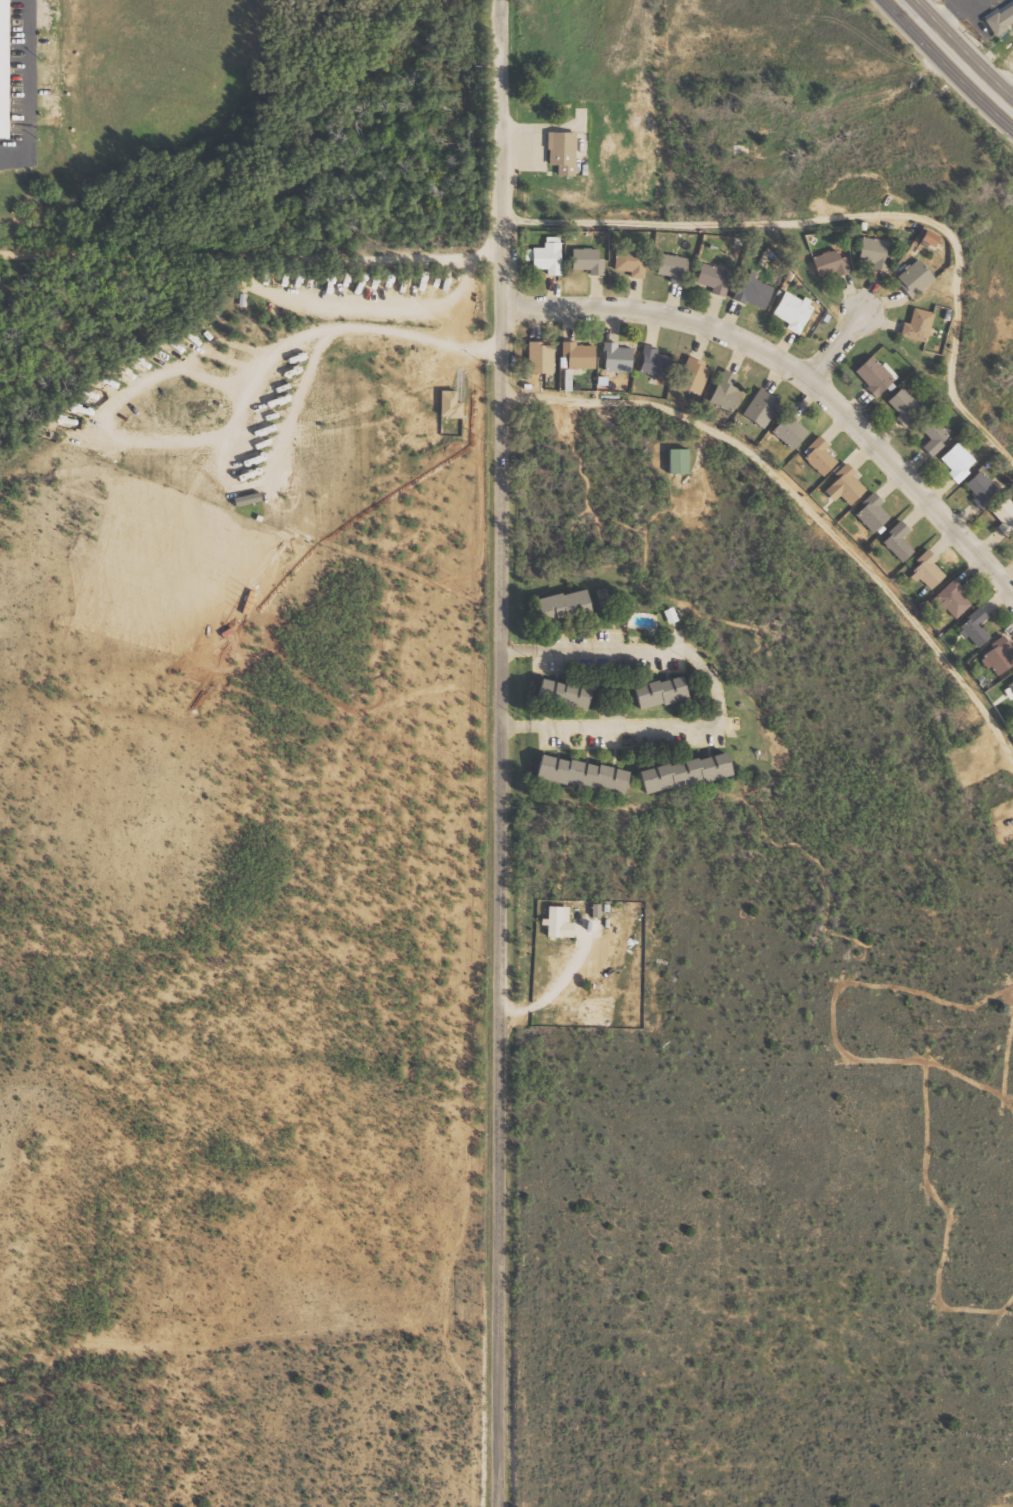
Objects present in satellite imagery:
building: (1002, 18)
road: (953, 58)
building: (1, 64)
building: (558, 155)
road: (855, 215)
building: (868, 258)
building: (541, 260)
building: (583, 263)
building: (626, 264)
building: (825, 270)
building: (668, 271)
building: (710, 282)
building: (908, 282)
building: (747, 295)
building: (788, 315)
building: (914, 329)
road: (835, 347)
building: (574, 358)
building: (534, 360)
building: (612, 360)
building: (650, 364)
road: (798, 376)
building: (570, 378)
building: (870, 379)
building: (687, 380)
building: (721, 393)
building: (452, 404)
building: (756, 410)
building: (900, 410)
building: (784, 432)
building: (929, 440)
building: (815, 460)
building: (674, 463)
building: (952, 466)
building: (842, 485)
building: (976, 490)
road: (801, 507)
building: (868, 514)
building: (1002, 520)
building: (895, 544)
building: (922, 572)
building: (950, 601)
building: (567, 604)
building: (971, 630)
building: (996, 658)
building: (1010, 686)
building: (666, 691)
building: (567, 693)
road: (723, 705)
road: (501, 753)
building: (690, 772)
building: (587, 774)
building: (598, 910)
building: (562, 922)

